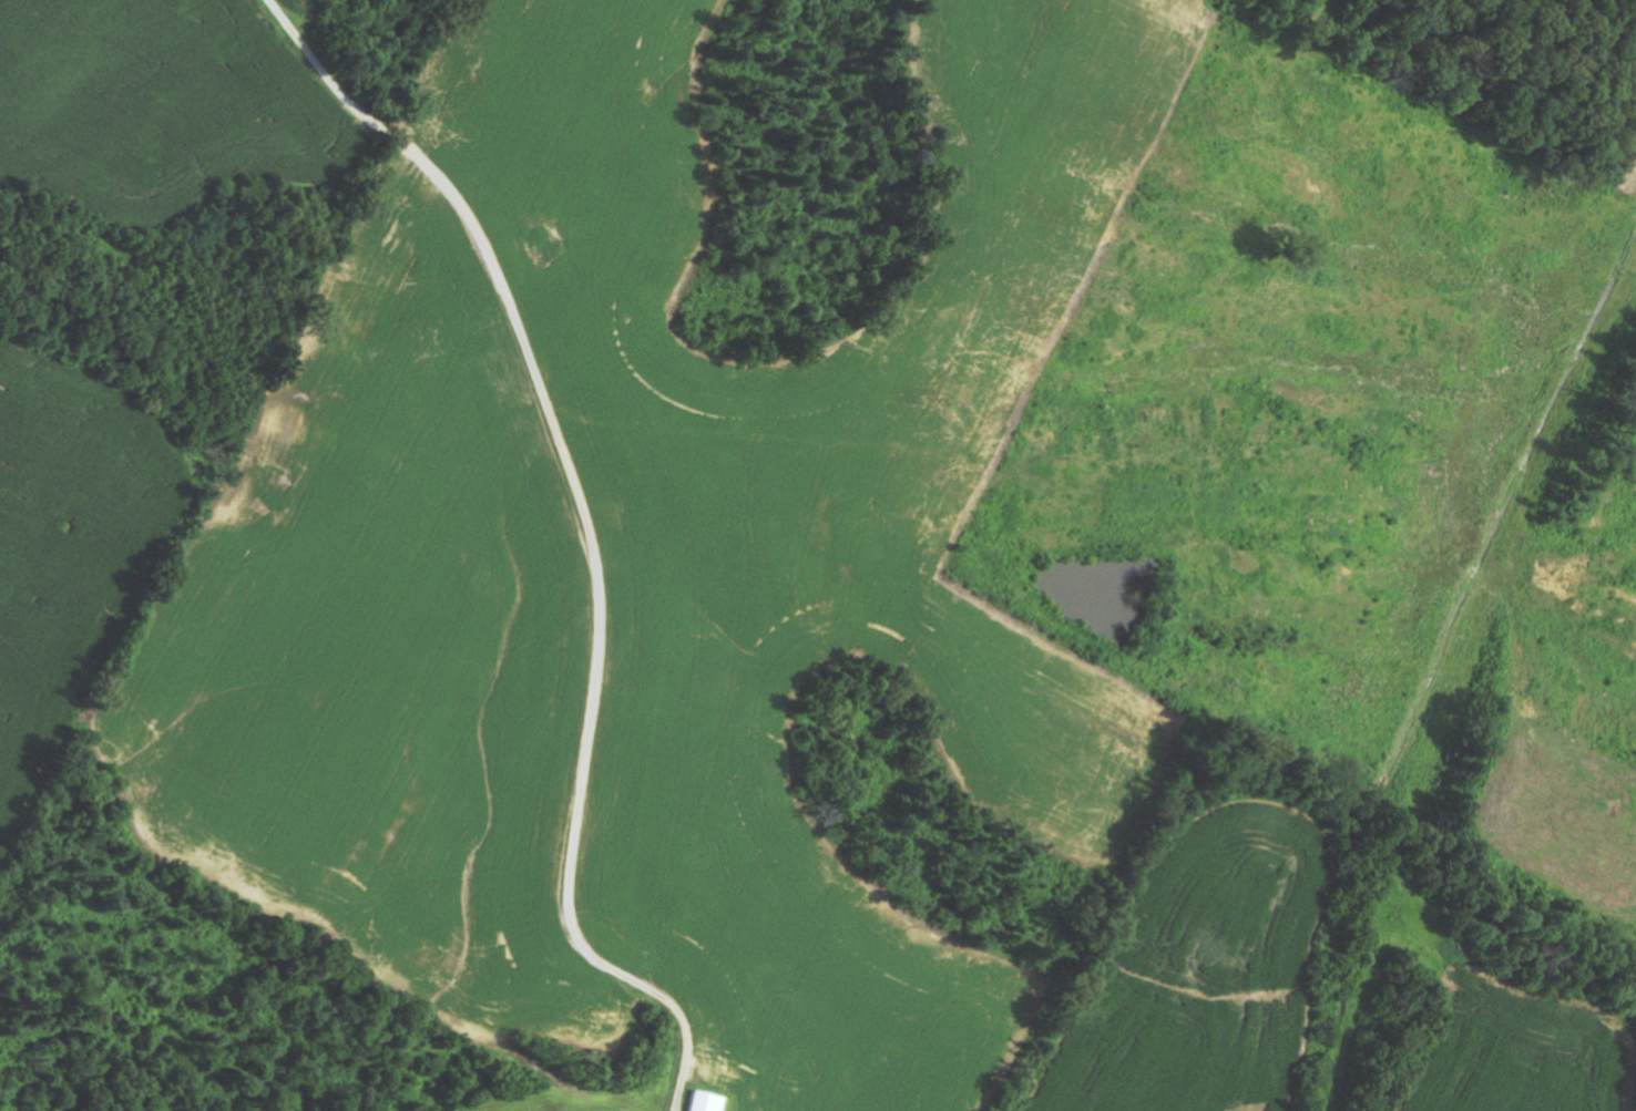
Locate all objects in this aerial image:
building: (712, 1101)

